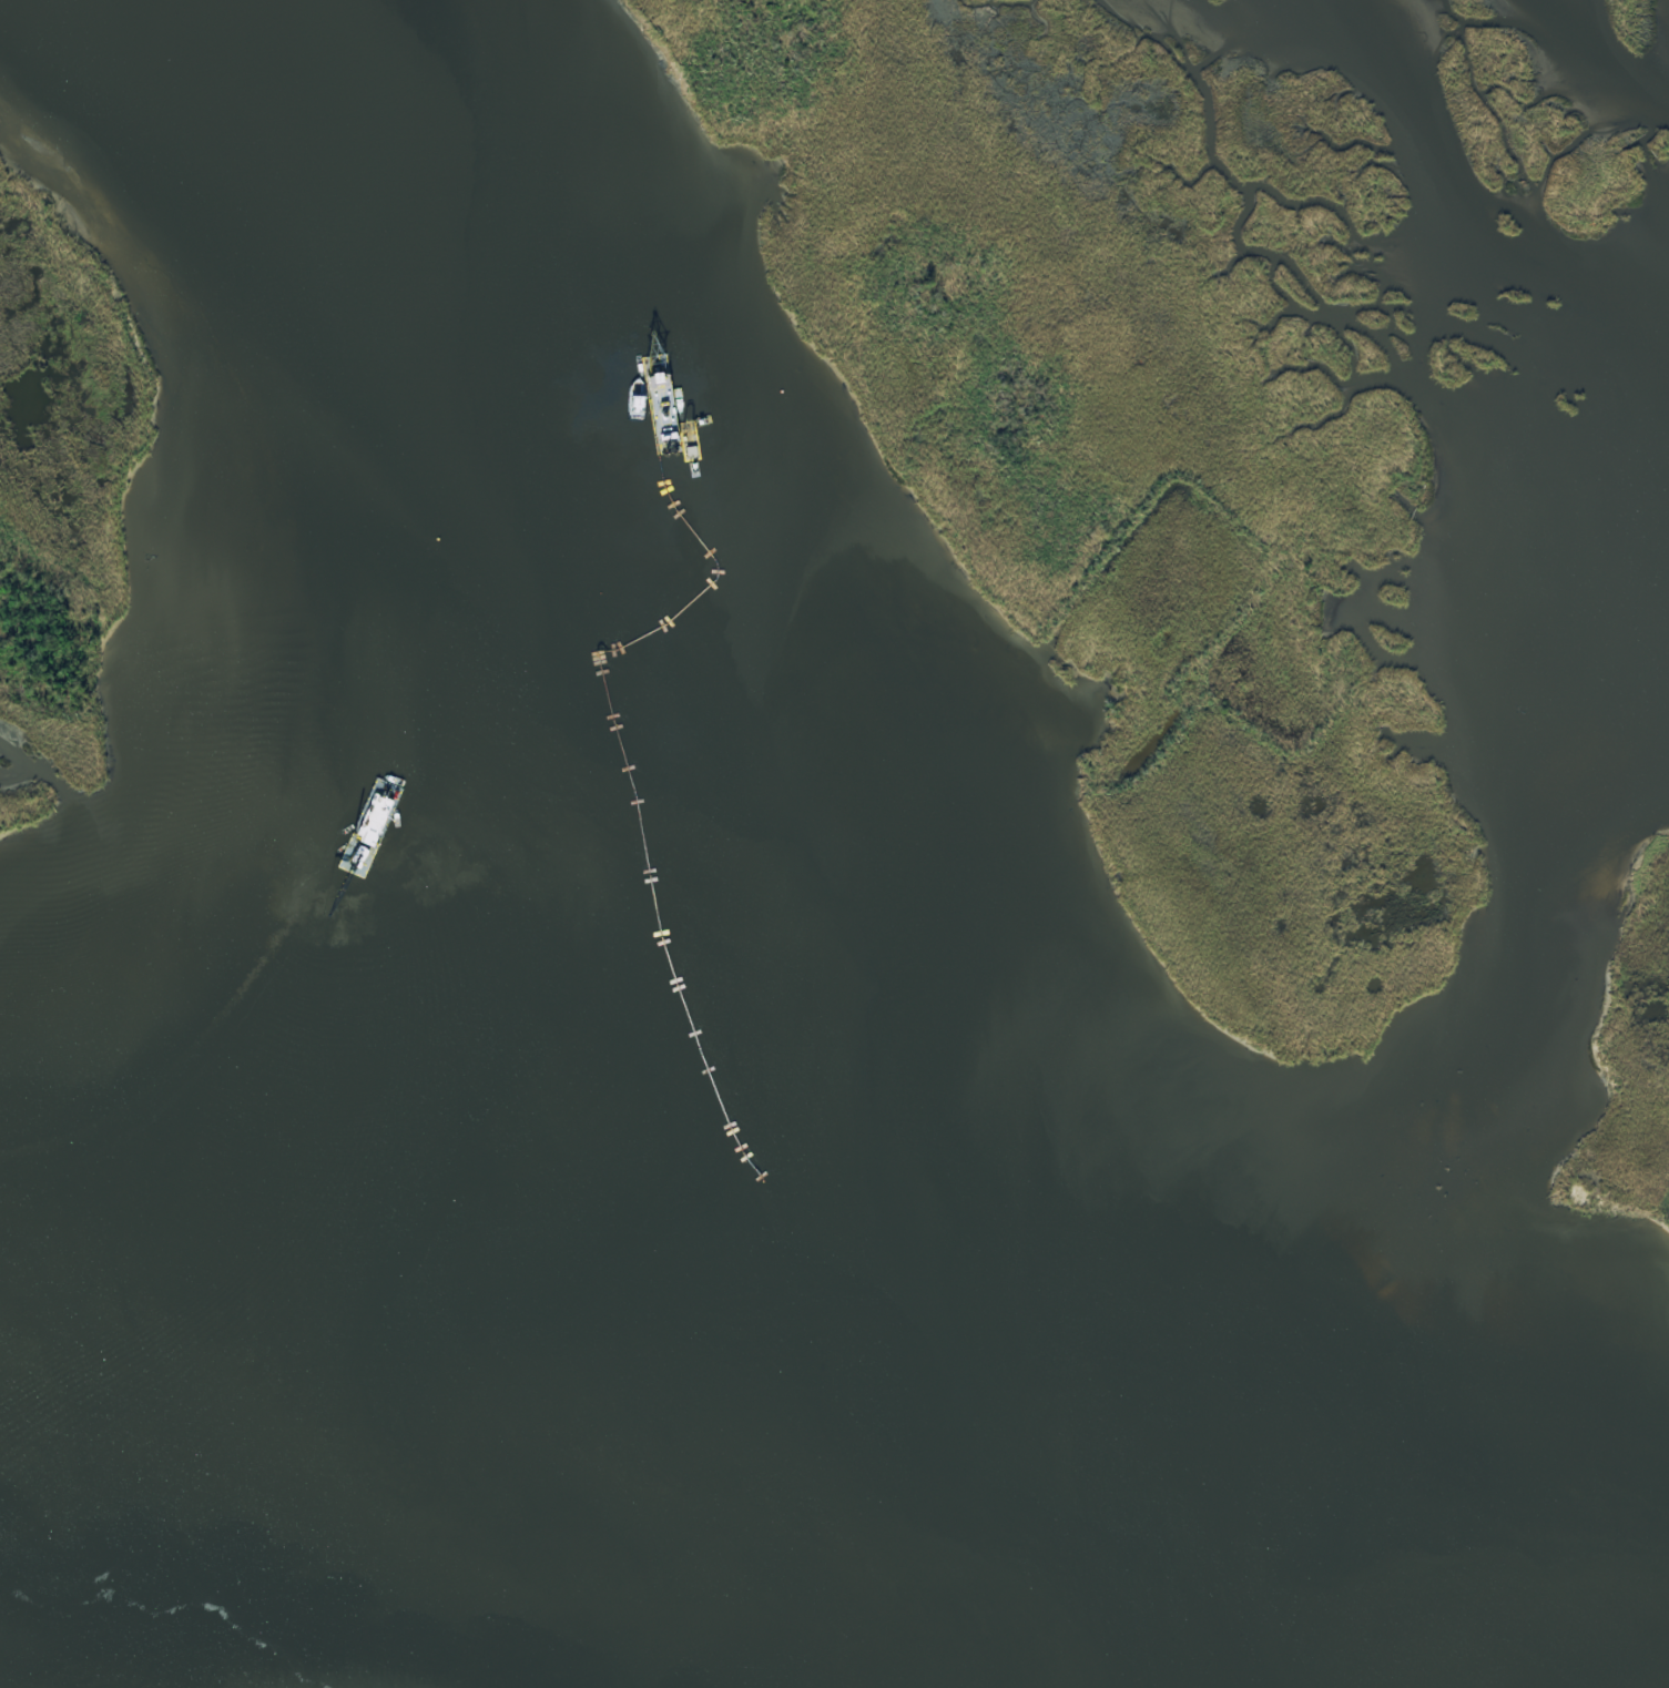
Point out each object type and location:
river: (430, 1613)

